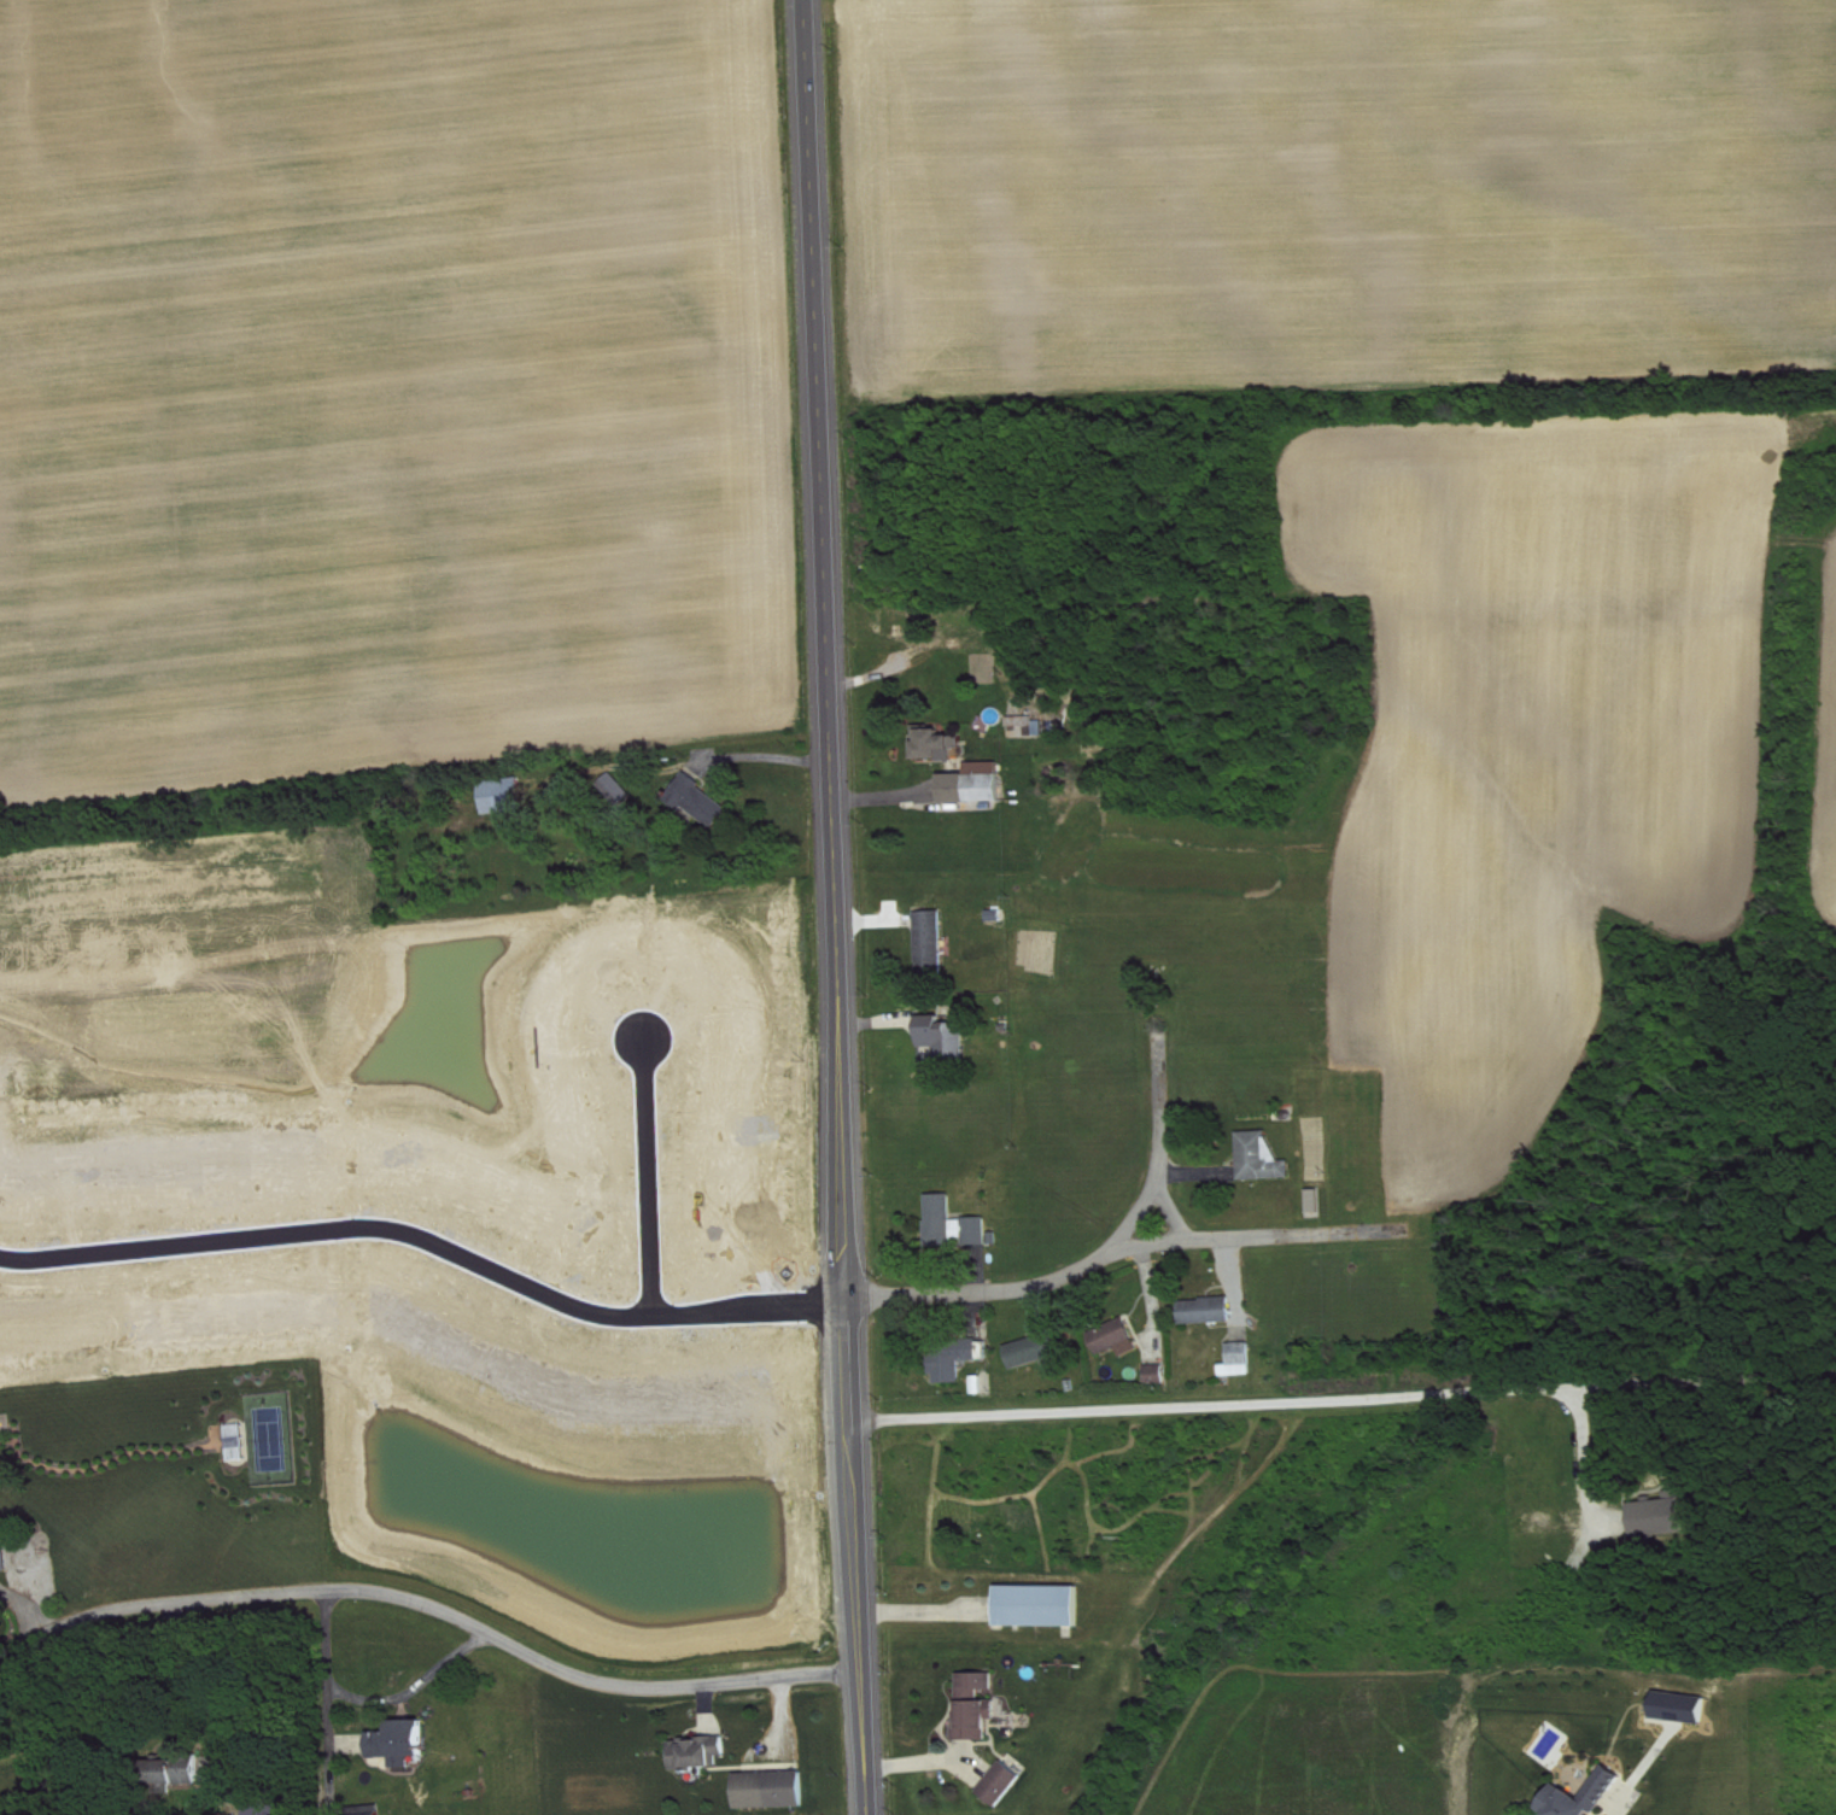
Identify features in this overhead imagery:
building: (1031, 727)
building: (939, 744)
building: (980, 784)
building: (620, 790)
building: (507, 796)
building: (703, 802)
road: (840, 907)
building: (935, 942)
building: (949, 1037)
building: (1265, 1158)
road: (647, 1177)
building: (957, 1224)
road: (1350, 1234)
road: (433, 1240)
road: (1198, 1240)
road: (1118, 1247)
building: (1211, 1311)
building: (1119, 1339)
building: (1039, 1351)
building: (958, 1359)
building: (1245, 1360)
building: (1162, 1375)
road: (1346, 1397)
road: (1590, 1462)
building: (1663, 1516)
building: (6, 1555)
building: (1043, 1606)
road: (433, 1609)
road: (24, 1610)
road: (195, 1673)
road: (419, 1690)
road: (335, 1696)
building: (981, 1706)
building: (1682, 1710)
building: (404, 1743)
building: (703, 1752)
road: (1648, 1770)
building: (181, 1772)
building: (1007, 1784)
building: (776, 1790)
building: (1606, 1791)
building: (271, 1810)
building: (374, 1810)

